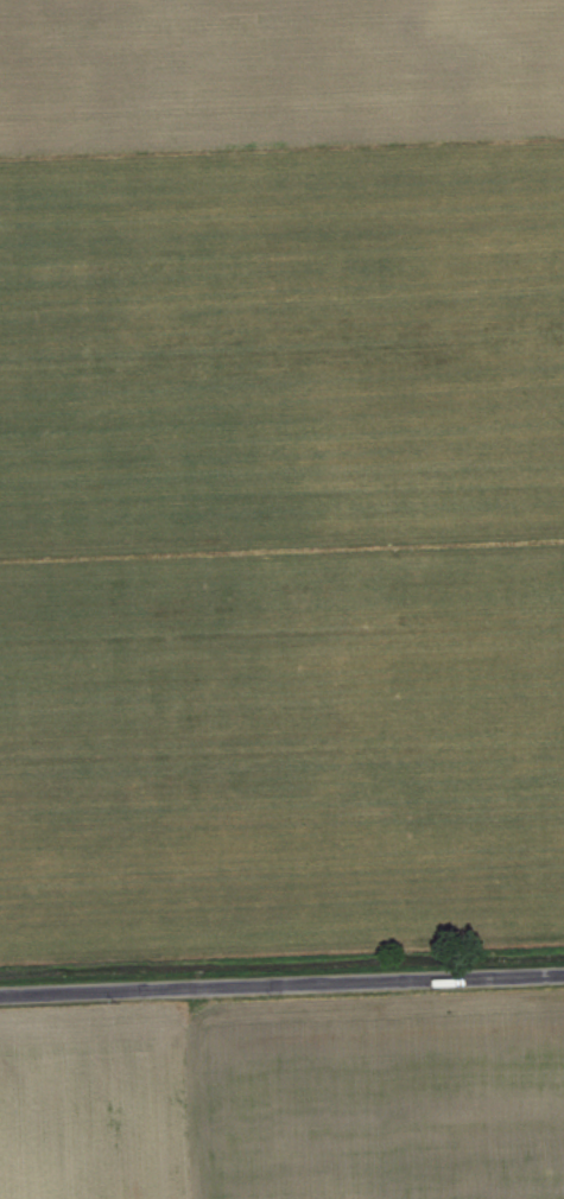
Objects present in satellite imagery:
road: (281, 984)

